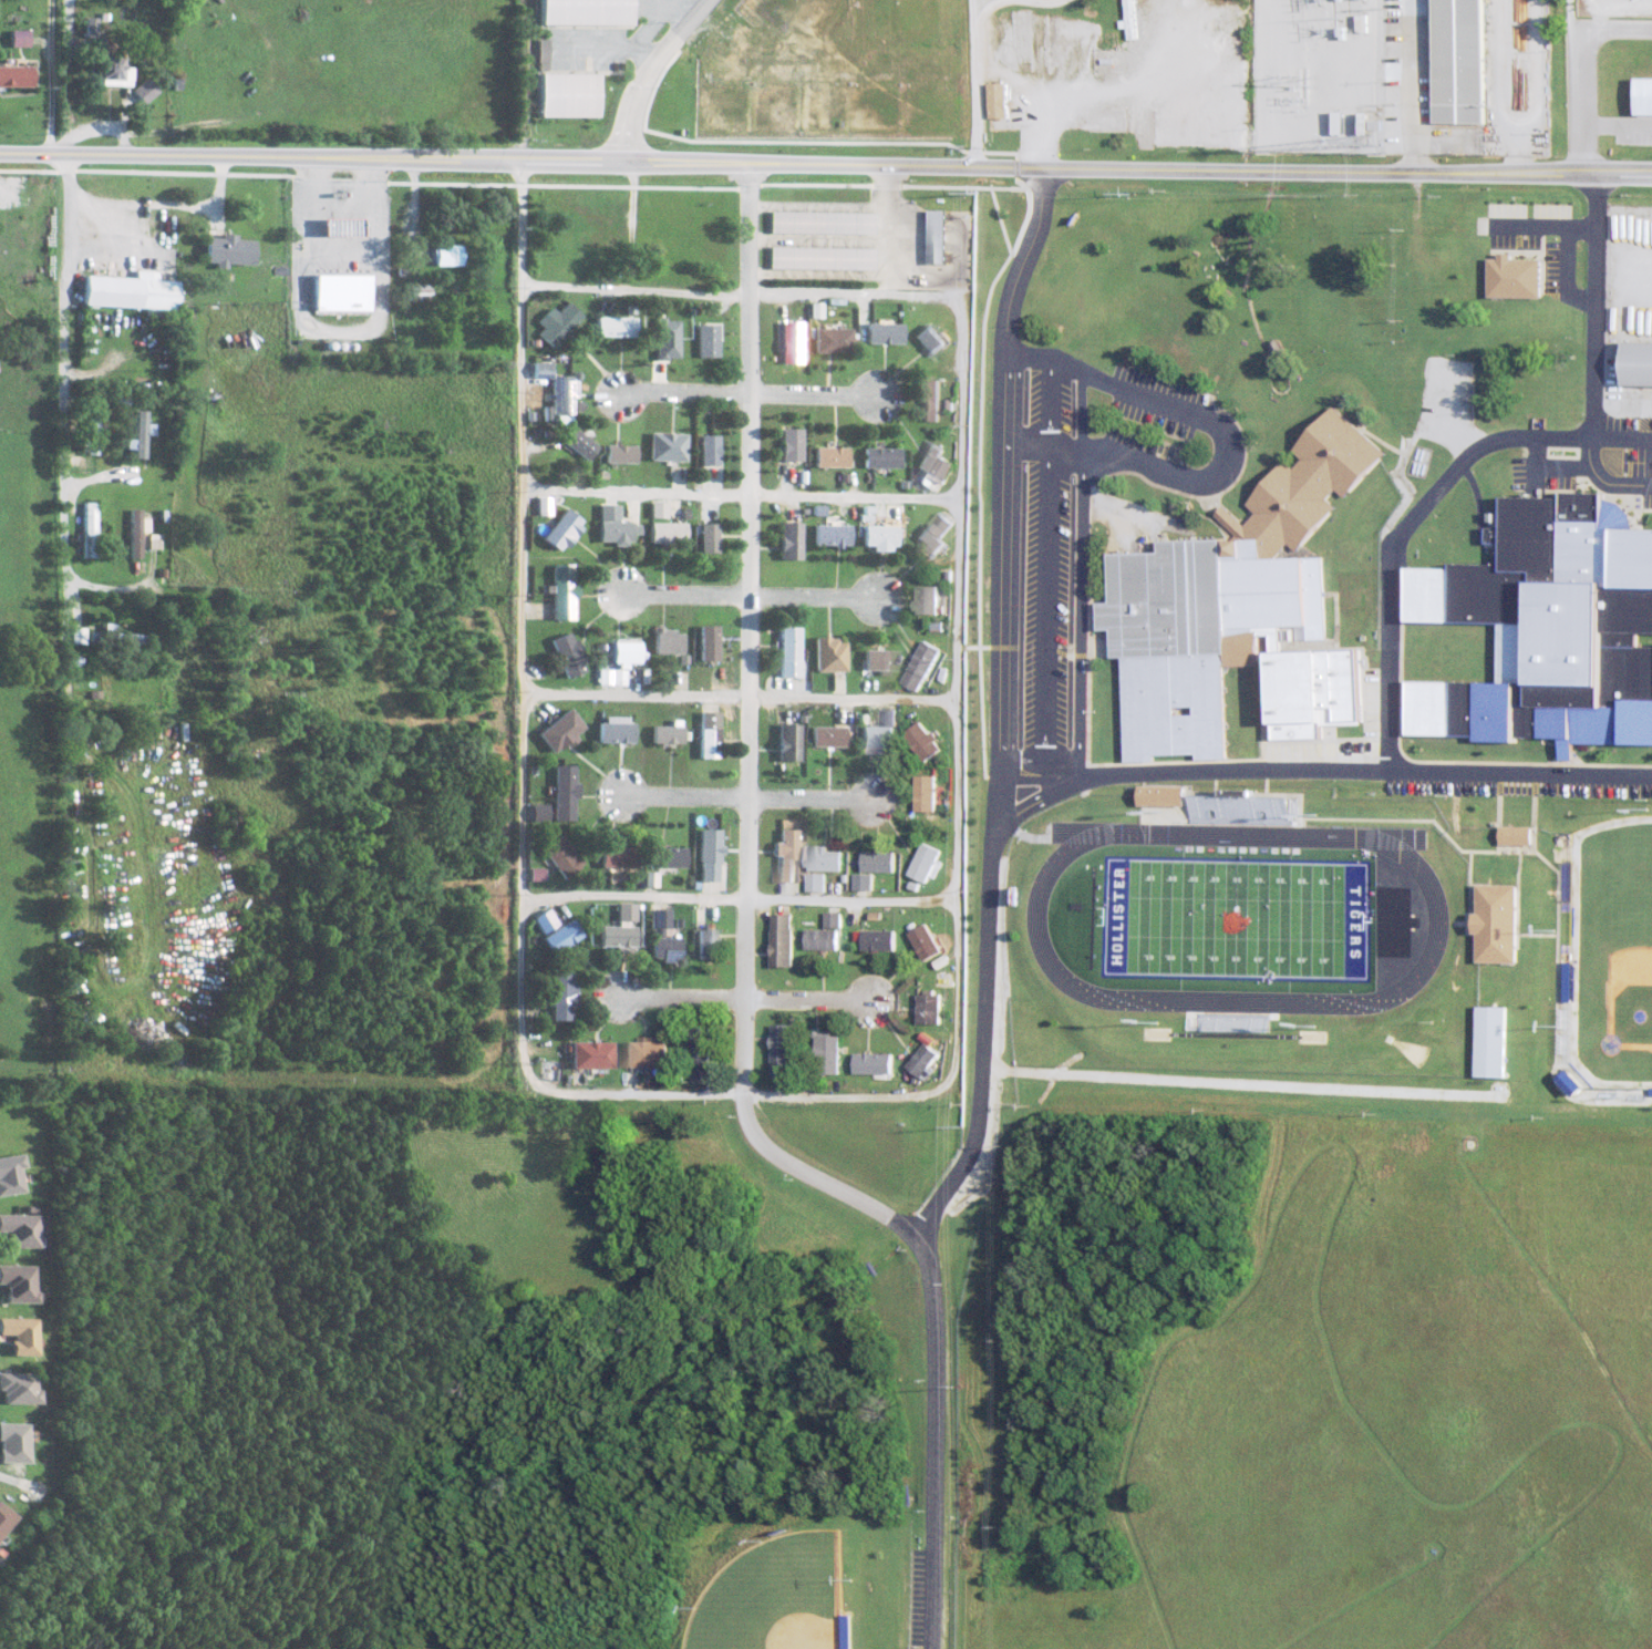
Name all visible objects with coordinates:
road: (1042, 2)
building: (589, 11)
building: (17, 38)
building: (1466, 61)
building: (112, 70)
power substation: (1321, 73)
road: (654, 74)
road: (1584, 74)
building: (14, 75)
road: (47, 82)
road: (975, 84)
road: (1421, 85)
building: (142, 90)
building: (571, 94)
building: (1648, 95)
building: (1000, 100)
road: (93, 118)
road: (309, 156)
road: (1134, 167)
road: (133, 204)
building: (824, 221)
building: (942, 236)
building: (228, 250)
building: (447, 255)
building: (823, 257)
building: (1518, 277)
building: (130, 290)
building: (341, 291)
road: (941, 295)
building: (559, 322)
building: (617, 326)
building: (885, 333)
building: (791, 337)
building: (668, 339)
building: (932, 339)
building: (709, 340)
building: (833, 340)
building: (1642, 363)
road: (684, 393)
road: (815, 394)
building: (933, 400)
road: (520, 429)
building: (140, 434)
building: (92, 436)
building: (580, 444)
building: (791, 444)
road: (1490, 444)
road: (1229, 445)
building: (668, 446)
building: (709, 449)
building: (621, 454)
parking lot: (1633, 454)
building: (829, 456)
building: (879, 457)
building: (937, 465)
road: (741, 493)
building: (544, 506)
building: (658, 508)
road: (1000, 513)
building: (615, 525)
building: (90, 529)
building: (562, 529)
building: (136, 532)
building: (667, 532)
building: (938, 534)
building: (830, 535)
building: (879, 536)
building: (789, 540)
road: (1049, 561)
building: (564, 591)
road: (685, 595)
building: (1231, 596)
road: (814, 597)
building: (935, 600)
road: (753, 628)
building: (1551, 628)
building: (75, 635)
building: (115, 639)
building: (668, 641)
building: (709, 642)
building: (788, 651)
building: (626, 652)
building: (568, 655)
building: (829, 655)
building: (879, 659)
building: (927, 666)
building: (611, 677)
road: (739, 694)
building: (892, 718)
building: (560, 732)
building: (616, 732)
building: (668, 734)
building: (709, 734)
building: (827, 736)
building: (876, 740)
building: (929, 741)
building: (787, 742)
road: (1039, 764)
road: (1330, 771)
building: (565, 792)
building: (928, 793)
building: (1170, 795)
road: (685, 796)
road: (815, 800)
building: (1246, 810)
building: (537, 812)
building: (1519, 835)
building: (710, 855)
building: (787, 855)
building: (562, 856)
building: (620, 856)
building: (672, 857)
building: (827, 858)
building: (882, 862)
building: (929, 863)
building: (537, 874)
building: (652, 879)
building: (867, 882)
building: (819, 883)
road: (731, 898)
building: (837, 919)
building: (1501, 924)
building: (622, 928)
building: (557, 930)
building: (665, 939)
building: (825, 939)
building: (882, 940)
building: (787, 941)
building: (930, 942)
building: (708, 945)
park: (1613, 954)
building: (1569, 982)
building: (564, 996)
road: (683, 999)
road: (814, 1000)
building: (933, 1008)
road: (987, 1031)
building: (1495, 1042)
building: (701, 1048)
building: (787, 1051)
building: (649, 1053)
building: (834, 1053)
building: (592, 1054)
building: (930, 1061)
building: (878, 1063)
building: (10, 1175)
building: (19, 1229)
building: (17, 1284)
road: (939, 1325)
building: (18, 1336)
building: (17, 1389)
building: (11, 1443)
building: (3, 1518)
park: (778, 1597)

